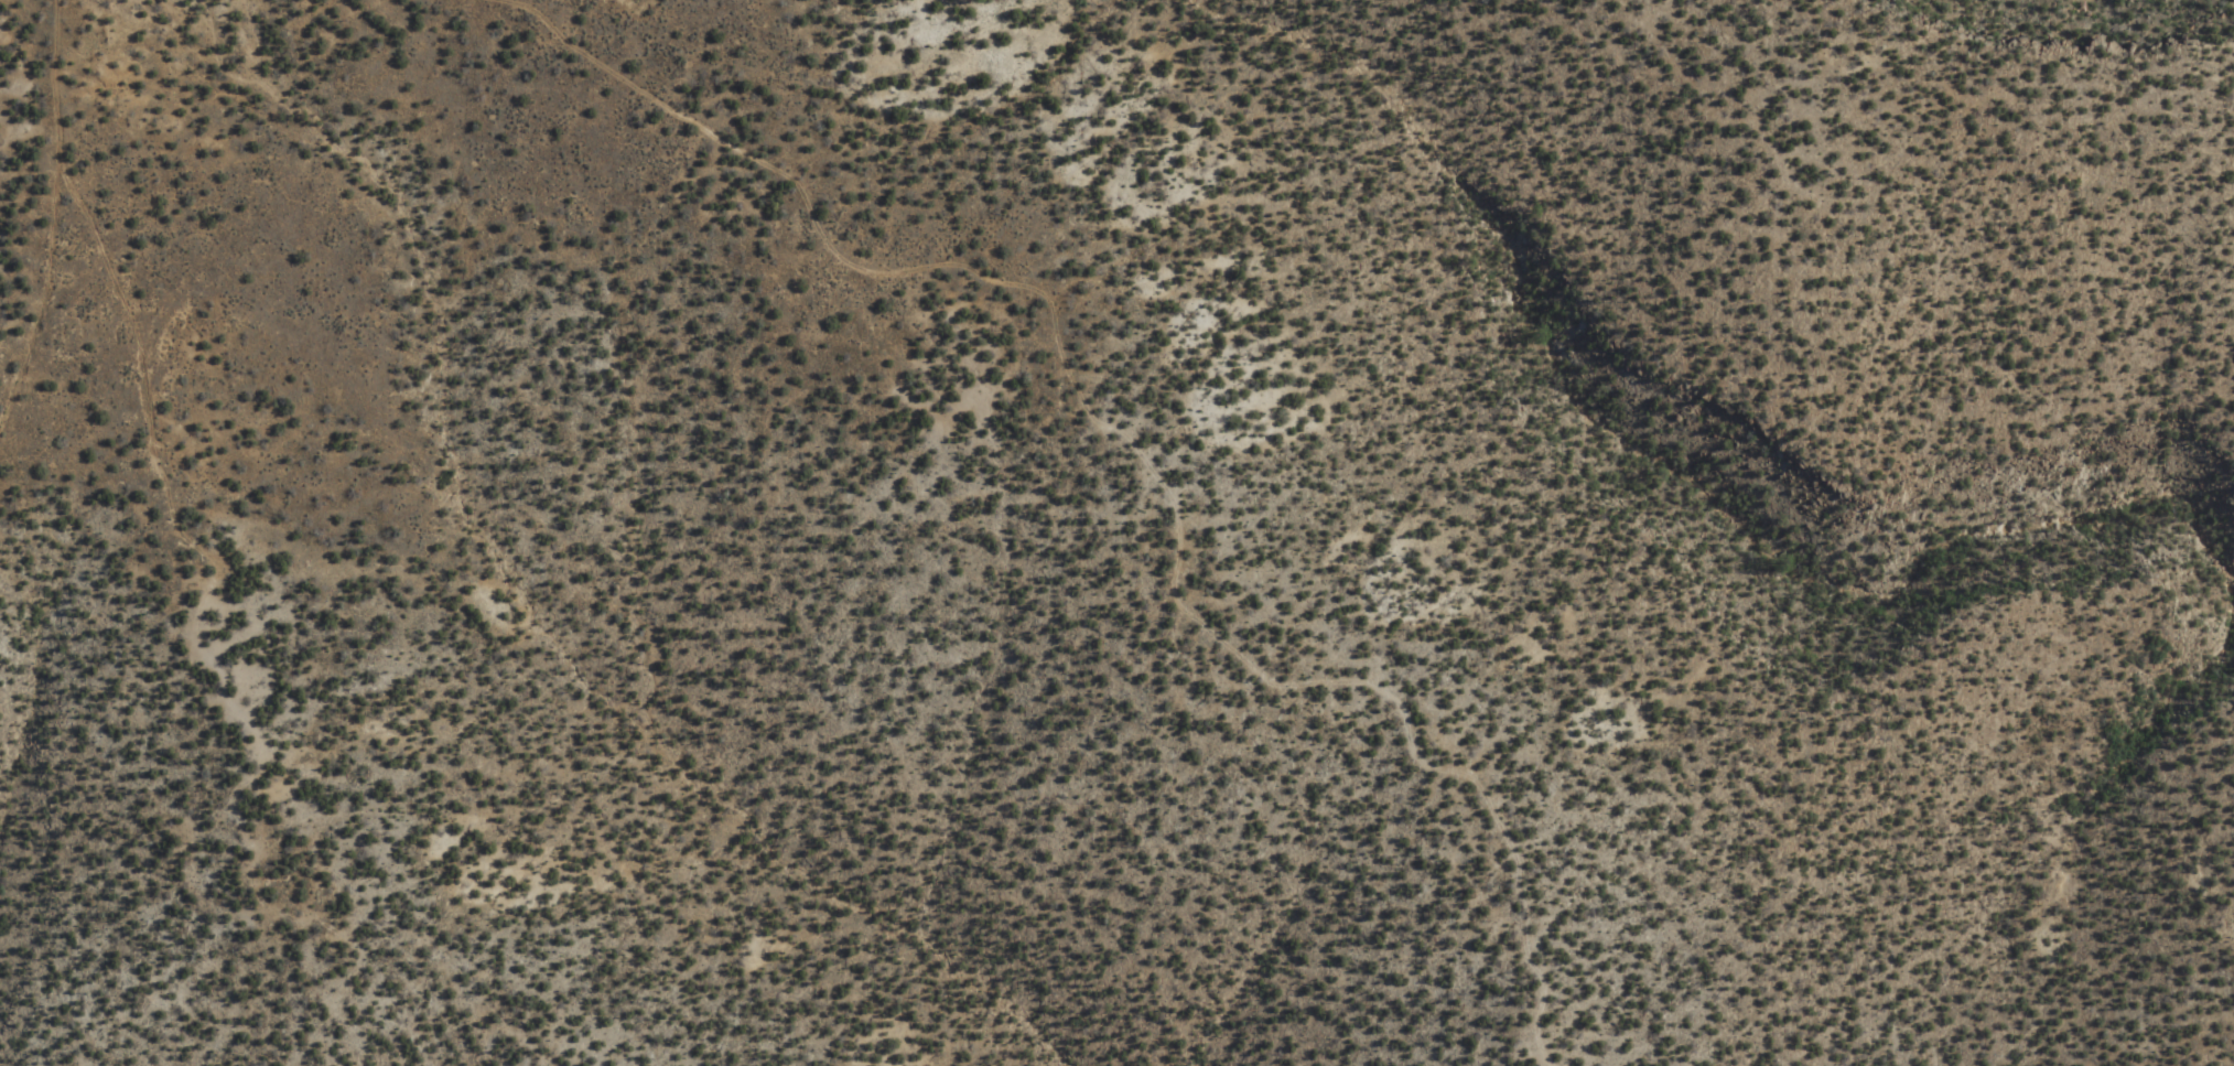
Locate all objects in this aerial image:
road: (1858, 164)
road: (48, 246)
road: (1135, 453)

